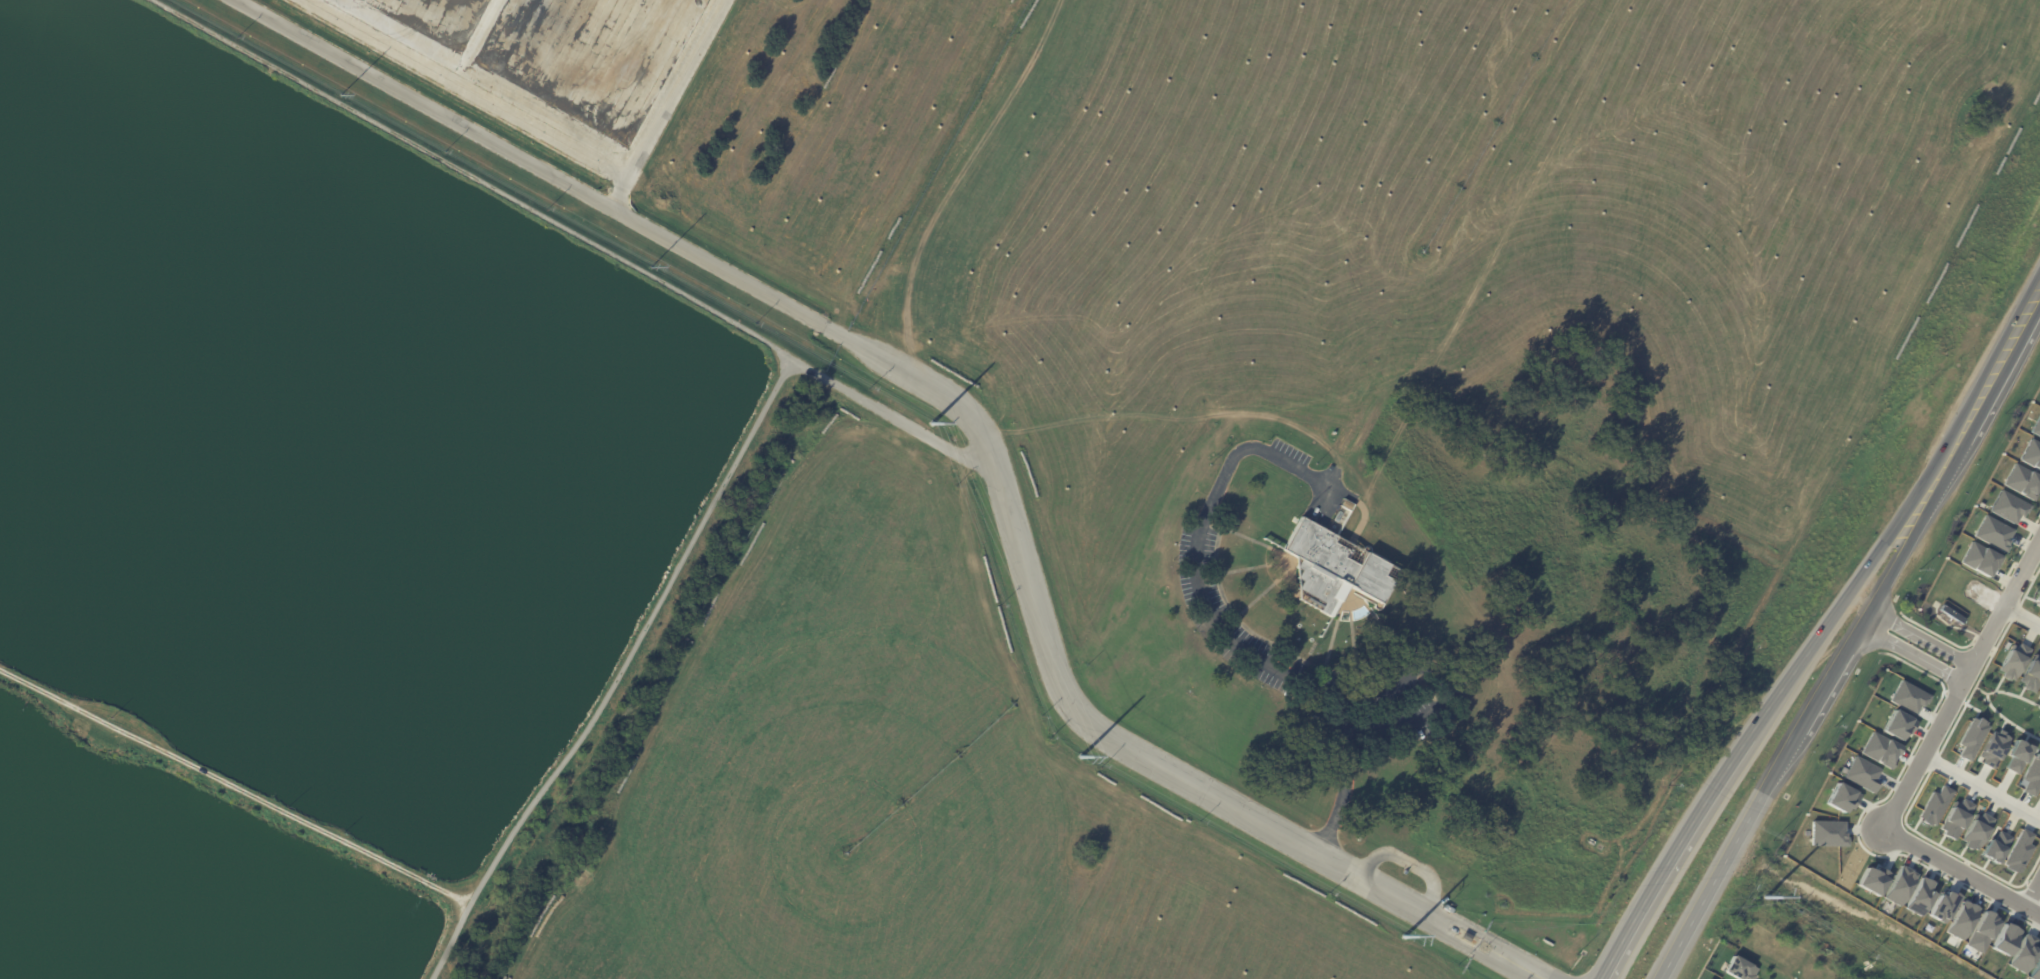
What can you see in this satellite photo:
power tower: (342, 92)
road: (670, 104)
road: (960, 182)
crop: (1373, 191)
road: (631, 219)
road: (569, 236)
road: (1985, 387)
power tower: (937, 424)
building: (2036, 426)
building: (2031, 454)
wastewater plant: (351, 468)
building: (1276, 480)
building: (2021, 481)
road: (1326, 489)
building: (2006, 506)
building: (1992, 533)
building: (1978, 558)
building: (1334, 569)
building: (2037, 599)
building: (1951, 611)
road: (2021, 615)
road: (1921, 635)
road: (1909, 654)
road: (1257, 658)
building: (2011, 660)
road: (616, 673)
building: (2030, 673)
road: (1959, 684)
building: (2039, 693)
building: (1906, 696)
building: (1896, 724)
road: (1754, 725)
road: (1797, 733)
building: (1969, 737)
building: (1991, 748)
building: (1878, 750)
building: (2016, 756)
power tower: (1084, 763)
building: (1860, 773)
road: (1343, 774)
building: (2031, 774)
crop: (885, 781)
road: (235, 785)
road: (1981, 785)
road: (1200, 787)
building: (2039, 794)
building: (1840, 797)
building: (1932, 806)
building: (1953, 818)
building: (1974, 830)
building: (1826, 833)
building: (1993, 847)
building: (2017, 851)
road: (1959, 876)
building: (1871, 879)
building: (1897, 885)
building: (1918, 896)
power tower: (1775, 898)
road: (2033, 902)
building: (1941, 905)
building: (1960, 919)
building: (1980, 931)
building: (1467, 937)
building: (2003, 938)
power tower: (1410, 940)
building: (2022, 953)
building: (1738, 968)
building: (2035, 969)
building: (1709, 978)

